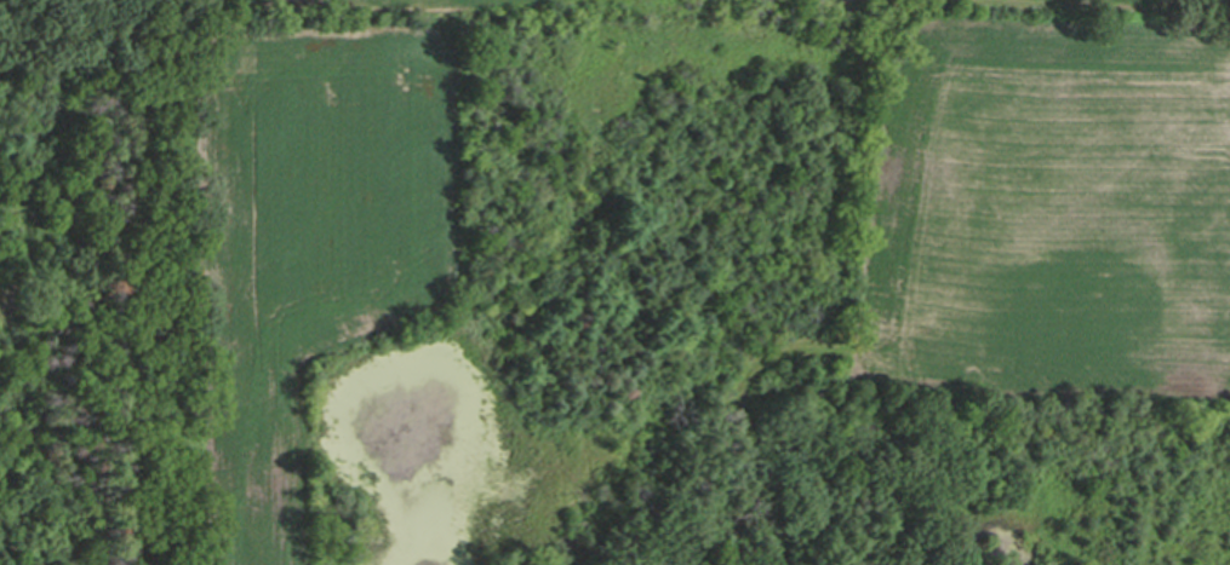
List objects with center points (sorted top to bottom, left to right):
crop: (304, 11)
park: (102, 299)

